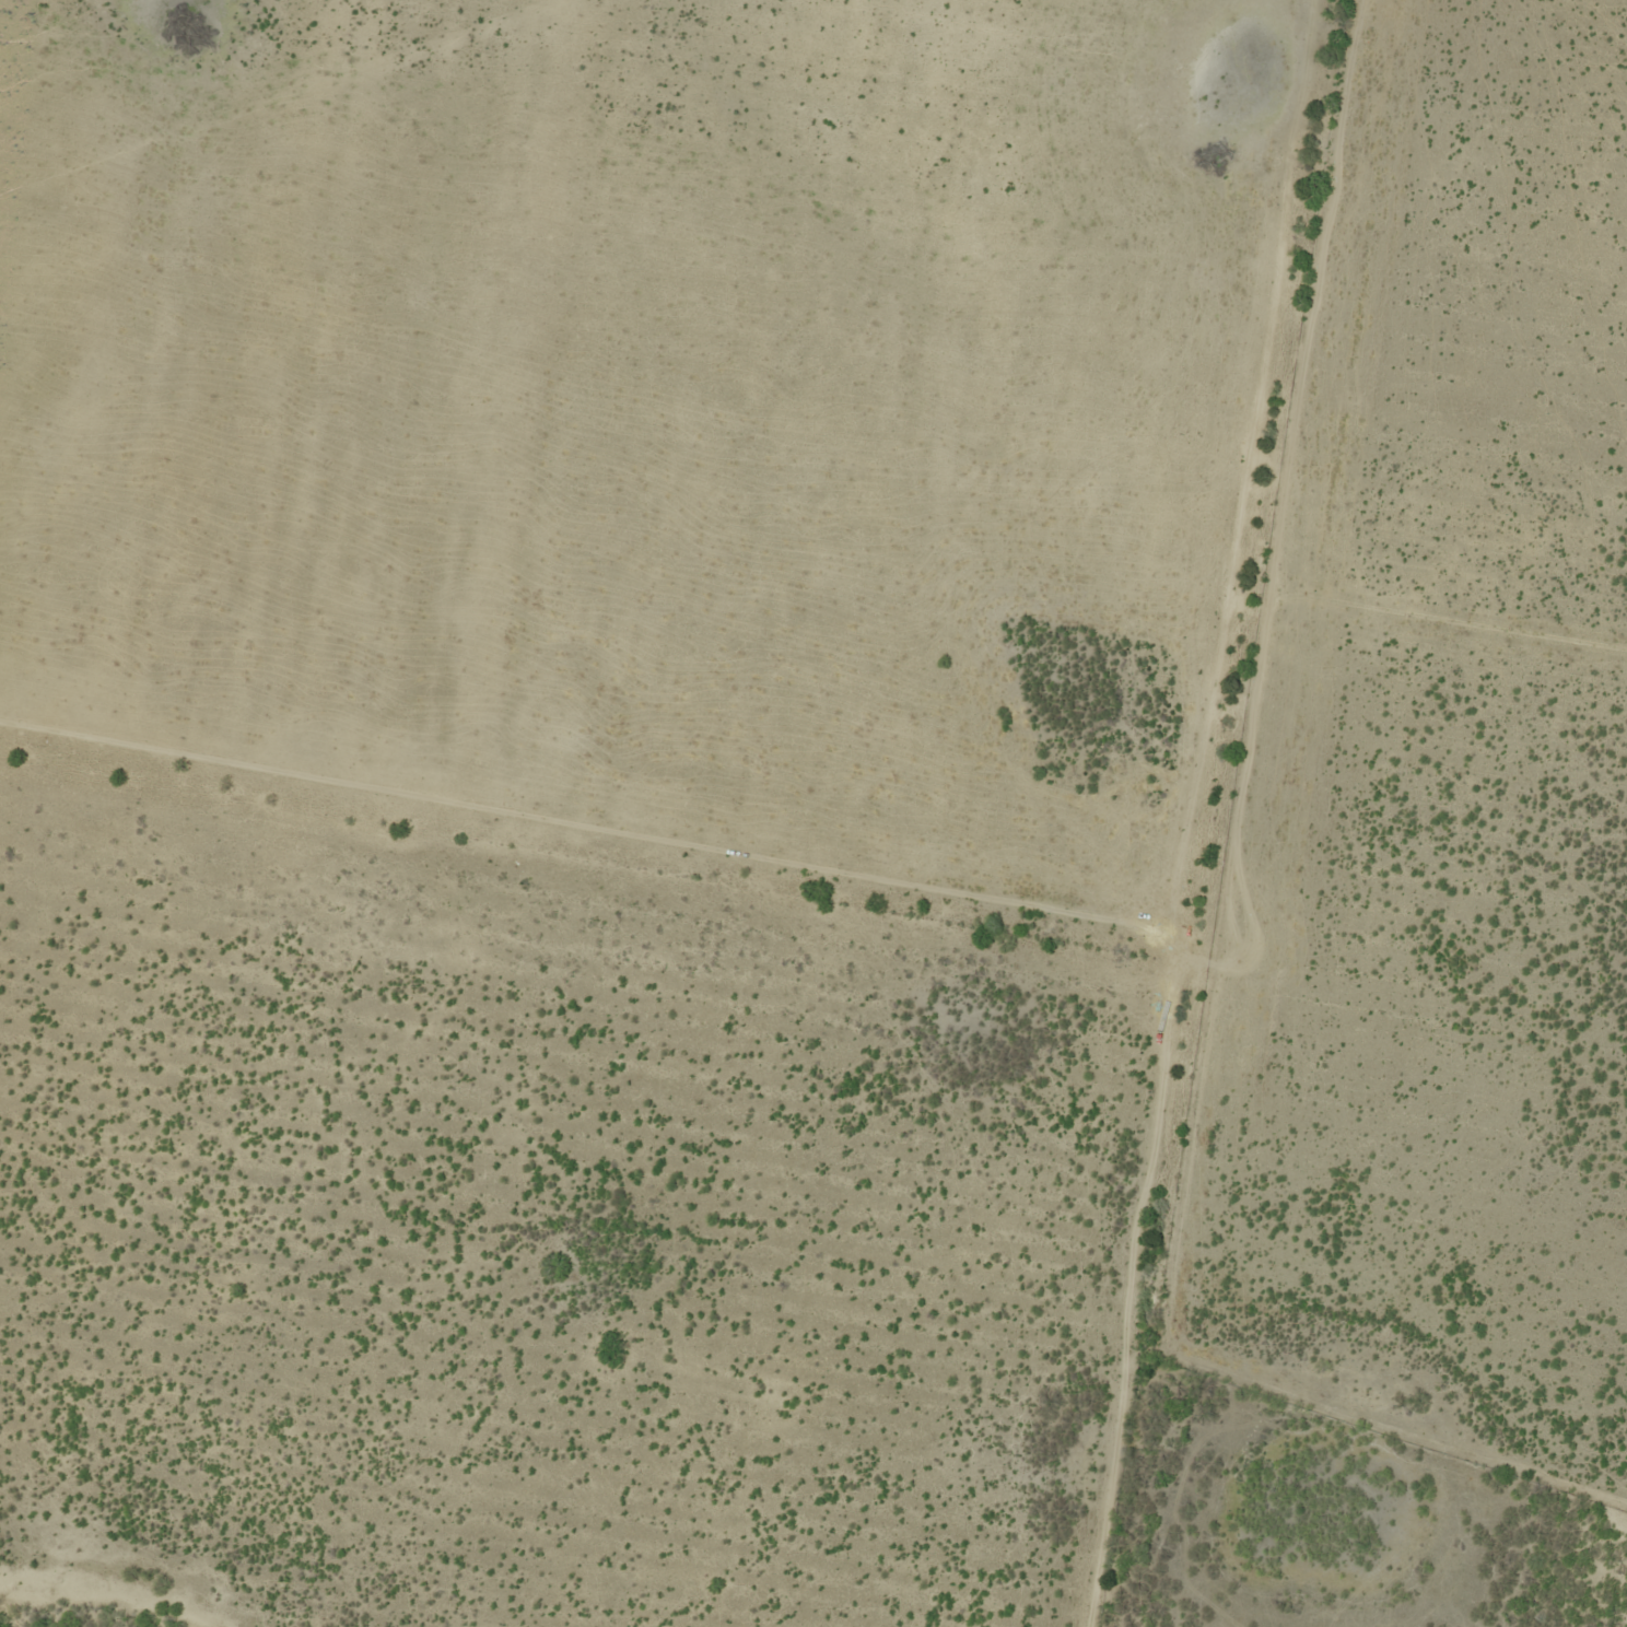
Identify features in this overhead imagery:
road: (1204, 912)

